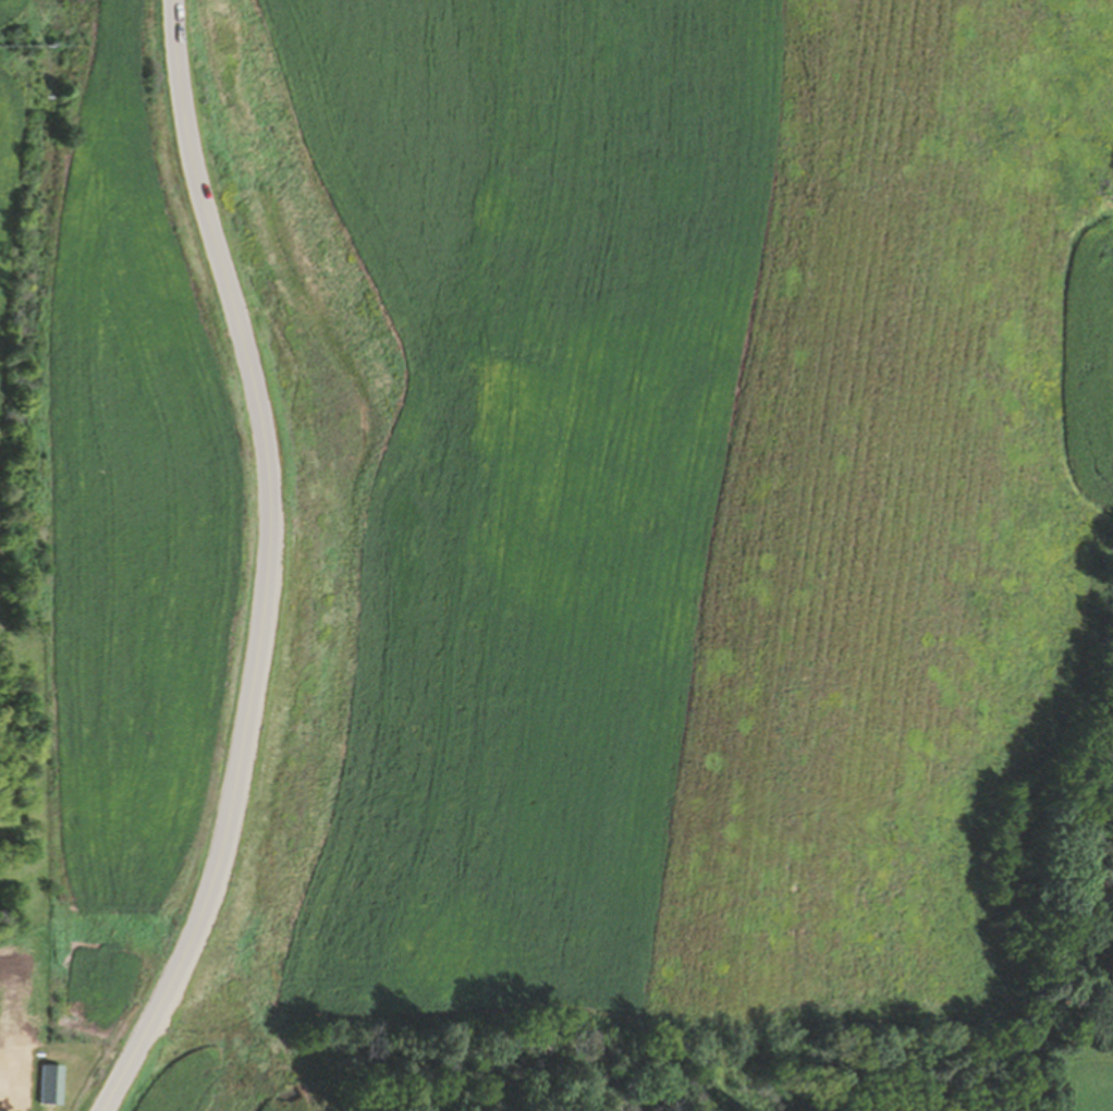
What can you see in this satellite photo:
road: (265, 564)
building: (45, 1084)
building: (5, 1085)

